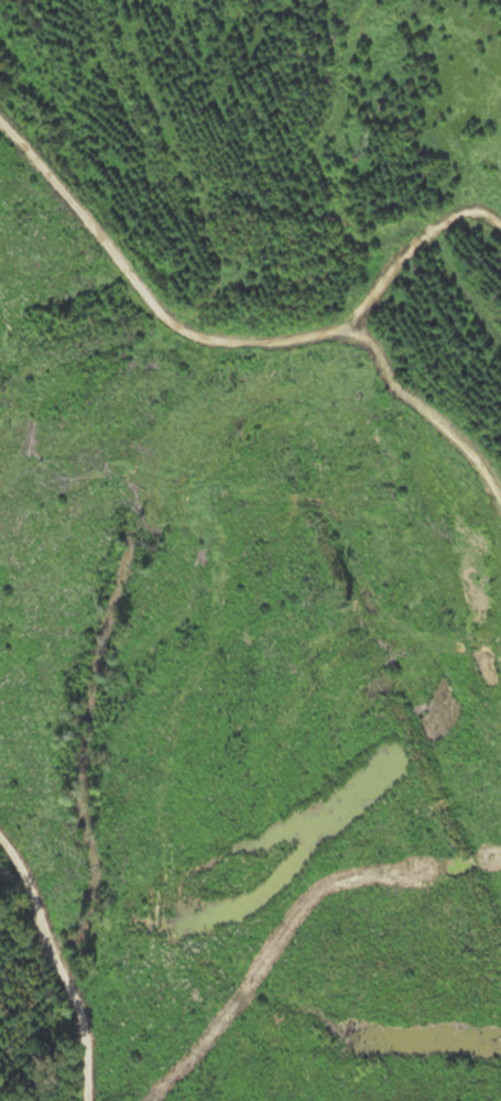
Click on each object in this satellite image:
road: (25, 998)

